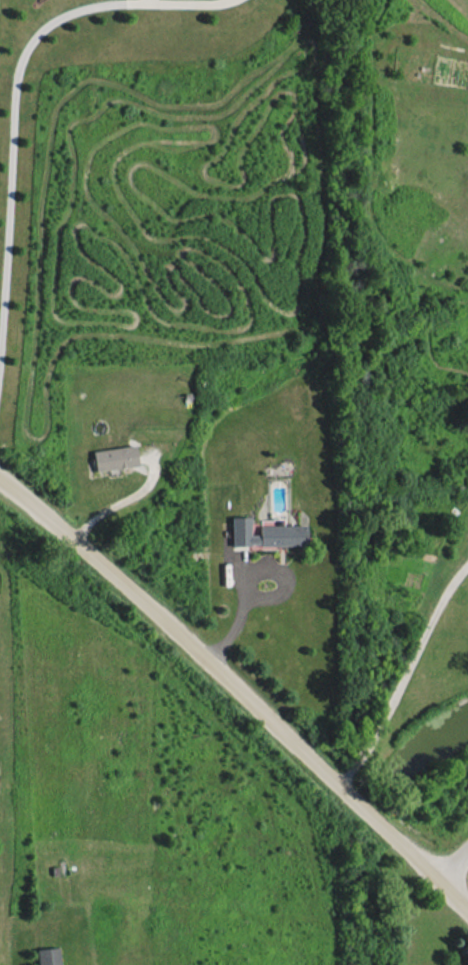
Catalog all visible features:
road: (12, 154)
building: (114, 457)
road: (118, 500)
building: (264, 534)
road: (251, 571)
road: (403, 678)
road: (240, 690)
road: (454, 868)
building: (48, 956)

